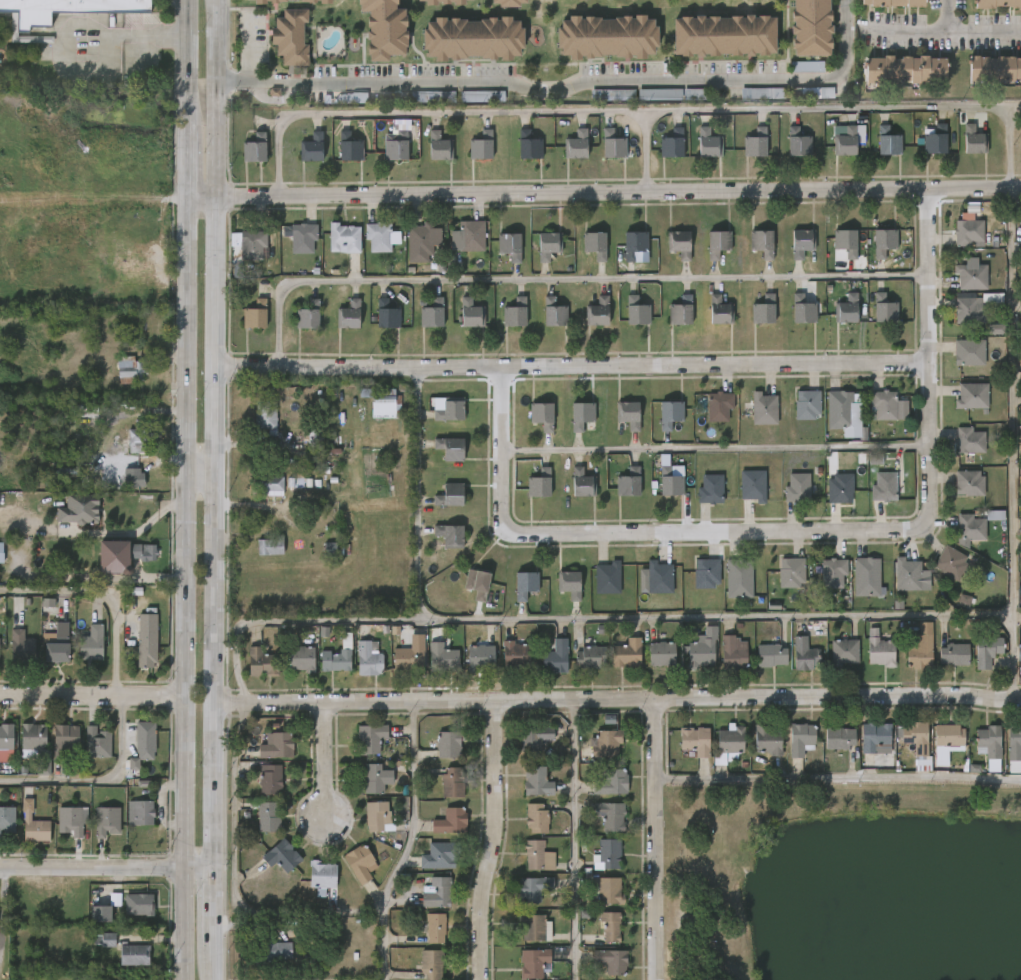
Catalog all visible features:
building: (308, 0)
building: (325, 0)
building: (260, 1)
building: (276, 1)
building: (445, 1)
building: (509, 2)
building: (895, 3)
building: (996, 3)
building: (65, 9)
building: (384, 28)
building: (812, 28)
road: (903, 28)
road: (968, 30)
building: (725, 35)
building: (289, 37)
building: (608, 37)
building: (473, 38)
road: (245, 51)
road: (106, 54)
building: (806, 67)
building: (995, 69)
building: (906, 70)
road: (229, 82)
road: (609, 82)
road: (276, 84)
building: (762, 93)
building: (811, 93)
building: (694, 94)
building: (612, 95)
building: (659, 95)
building: (482, 97)
road: (602, 112)
building: (935, 139)
building: (973, 139)
building: (888, 140)
building: (845, 141)
building: (755, 142)
building: (798, 142)
road: (1007, 142)
building: (612, 143)
building: (672, 143)
building: (707, 143)
building: (576, 144)
building: (436, 145)
building: (481, 145)
building: (528, 145)
building: (348, 146)
building: (396, 146)
building: (252, 147)
building: (311, 147)
road: (642, 154)
road: (603, 196)
building: (970, 233)
building: (470, 235)
building: (376, 236)
building: (301, 237)
building: (343, 237)
building: (846, 241)
building: (883, 241)
building: (418, 242)
building: (762, 242)
building: (801, 242)
building: (31, 243)
building: (678, 243)
building: (547, 244)
building: (594, 244)
building: (633, 244)
building: (717, 244)
building: (250, 245)
building: (509, 245)
building: (130, 270)
building: (973, 277)
road: (566, 281)
building: (976, 307)
building: (847, 308)
building: (884, 308)
building: (764, 309)
building: (802, 309)
building: (719, 310)
building: (636, 311)
building: (681, 311)
building: (514, 312)
building: (553, 312)
building: (597, 312)
building: (470, 313)
building: (254, 314)
building: (385, 314)
building: (432, 314)
building: (307, 315)
building: (348, 315)
building: (996, 329)
building: (969, 352)
building: (128, 368)
road: (571, 368)
building: (972, 396)
building: (381, 401)
building: (807, 404)
building: (889, 406)
building: (719, 407)
building: (763, 408)
building: (451, 410)
building: (630, 414)
building: (671, 414)
building: (842, 414)
building: (541, 415)
building: (580, 415)
building: (267, 416)
building: (133, 438)
building: (312, 439)
building: (969, 440)
building: (451, 448)
road: (716, 449)
building: (875, 459)
building: (65, 464)
road: (198, 472)
building: (131, 476)
building: (628, 482)
building: (669, 482)
building: (539, 483)
building: (582, 483)
building: (970, 483)
building: (267, 485)
building: (752, 485)
building: (797, 487)
building: (884, 487)
building: (710, 489)
building: (840, 489)
road: (183, 490)
road: (213, 490)
building: (452, 495)
building: (78, 509)
building: (995, 515)
building: (972, 527)
road: (806, 531)
road: (125, 533)
building: (449, 536)
building: (269, 546)
building: (0, 549)
building: (142, 552)
building: (114, 557)
building: (953, 563)
building: (791, 572)
building: (706, 573)
building: (832, 573)
building: (907, 575)
building: (866, 576)
building: (608, 577)
building: (660, 577)
building: (738, 578)
building: (571, 583)
building: (476, 584)
building: (526, 584)
road: (103, 594)
building: (964, 601)
road: (804, 616)
road: (293, 619)
building: (146, 640)
building: (89, 644)
building: (59, 645)
building: (22, 647)
building: (702, 648)
building: (880, 650)
building: (987, 650)
building: (442, 652)
building: (734, 652)
building: (843, 652)
building: (516, 653)
building: (628, 653)
building: (920, 653)
building: (663, 654)
building: (805, 654)
building: (953, 654)
building: (1019, 654)
building: (339, 655)
building: (772, 655)
building: (591, 656)
road: (1012, 656)
building: (481, 657)
building: (557, 657)
building: (302, 658)
building: (408, 658)
building: (370, 659)
building: (262, 662)
road: (91, 695)
road: (617, 700)
building: (6, 735)
building: (951, 735)
building: (876, 736)
building: (918, 736)
building: (534, 737)
building: (369, 738)
building: (841, 738)
building: (803, 739)
building: (65, 740)
building: (144, 740)
building: (34, 741)
building: (767, 741)
building: (96, 743)
building: (605, 743)
building: (695, 743)
building: (448, 744)
building: (729, 745)
building: (276, 746)
building: (988, 746)
building: (1014, 749)
road: (323, 758)
building: (922, 761)
building: (379, 775)
road: (839, 776)
road: (98, 779)
building: (269, 780)
building: (453, 782)
building: (536, 782)
building: (610, 783)
building: (140, 813)
building: (375, 815)
building: (610, 816)
building: (267, 817)
building: (7, 819)
building: (71, 820)
building: (535, 820)
building: (106, 821)
building: (451, 821)
building: (37, 830)
road: (497, 839)
road: (572, 839)
road: (657, 840)
road: (407, 842)
building: (280, 855)
building: (441, 855)
building: (607, 855)
building: (537, 856)
building: (359, 864)
road: (106, 869)
building: (321, 874)
park: (848, 884)
building: (533, 887)
building: (608, 891)
building: (438, 893)
building: (139, 904)
building: (101, 914)
building: (534, 926)
building: (611, 926)
building: (436, 928)
building: (104, 940)
building: (272, 949)
building: (134, 954)
building: (610, 960)
building: (532, 962)
building: (430, 964)

